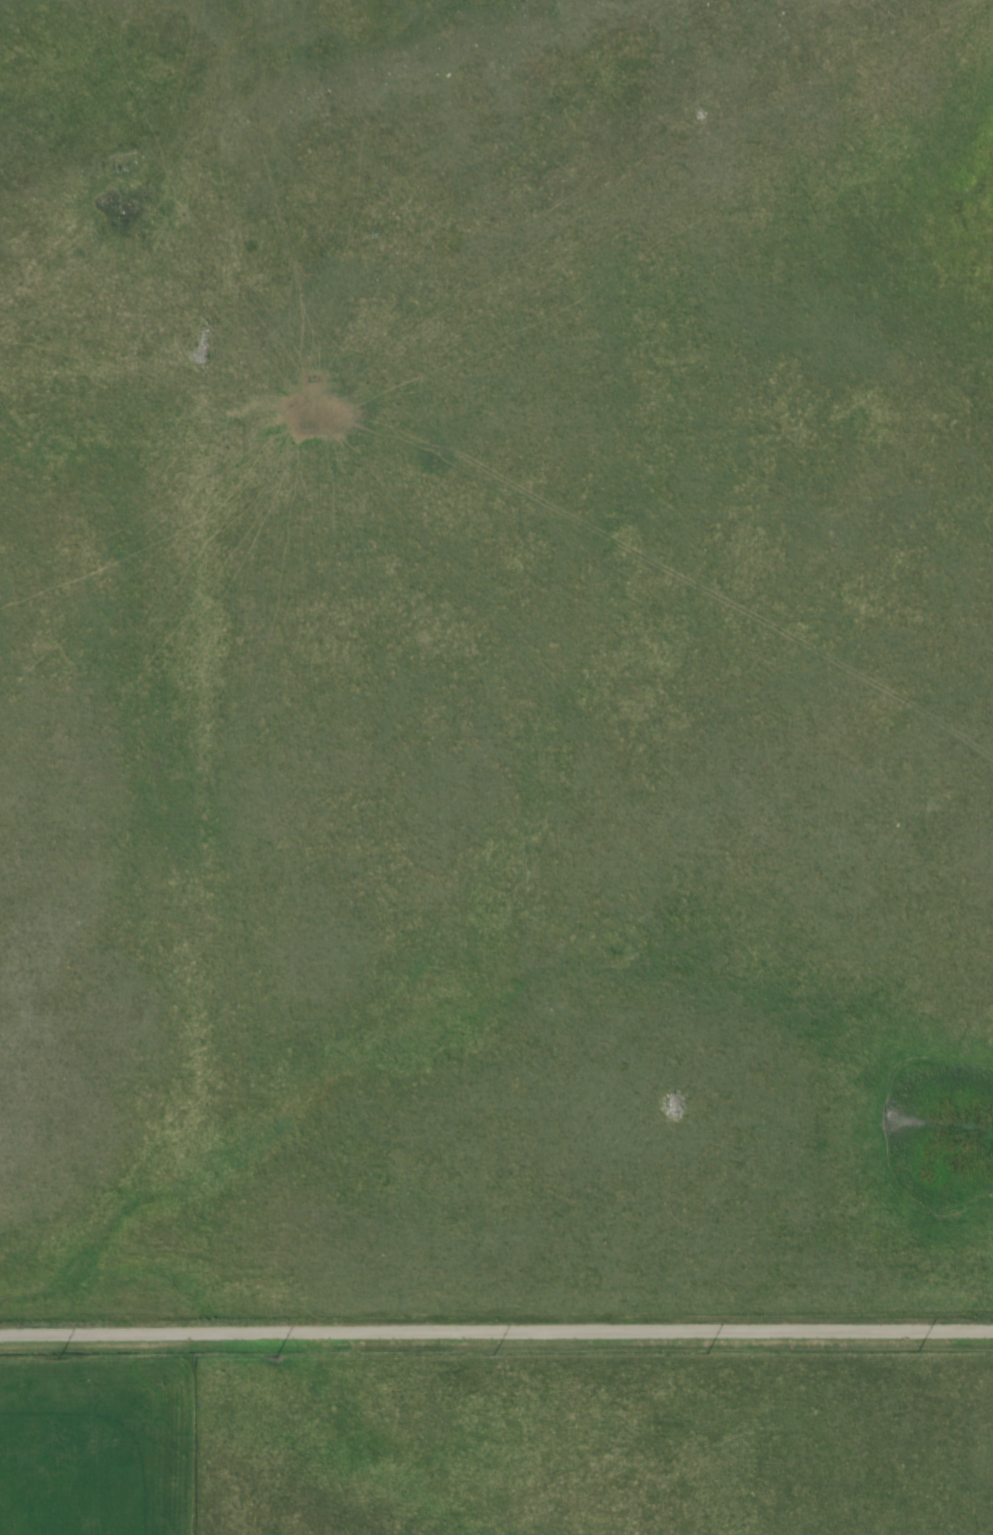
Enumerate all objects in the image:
road: (496, 1337)

